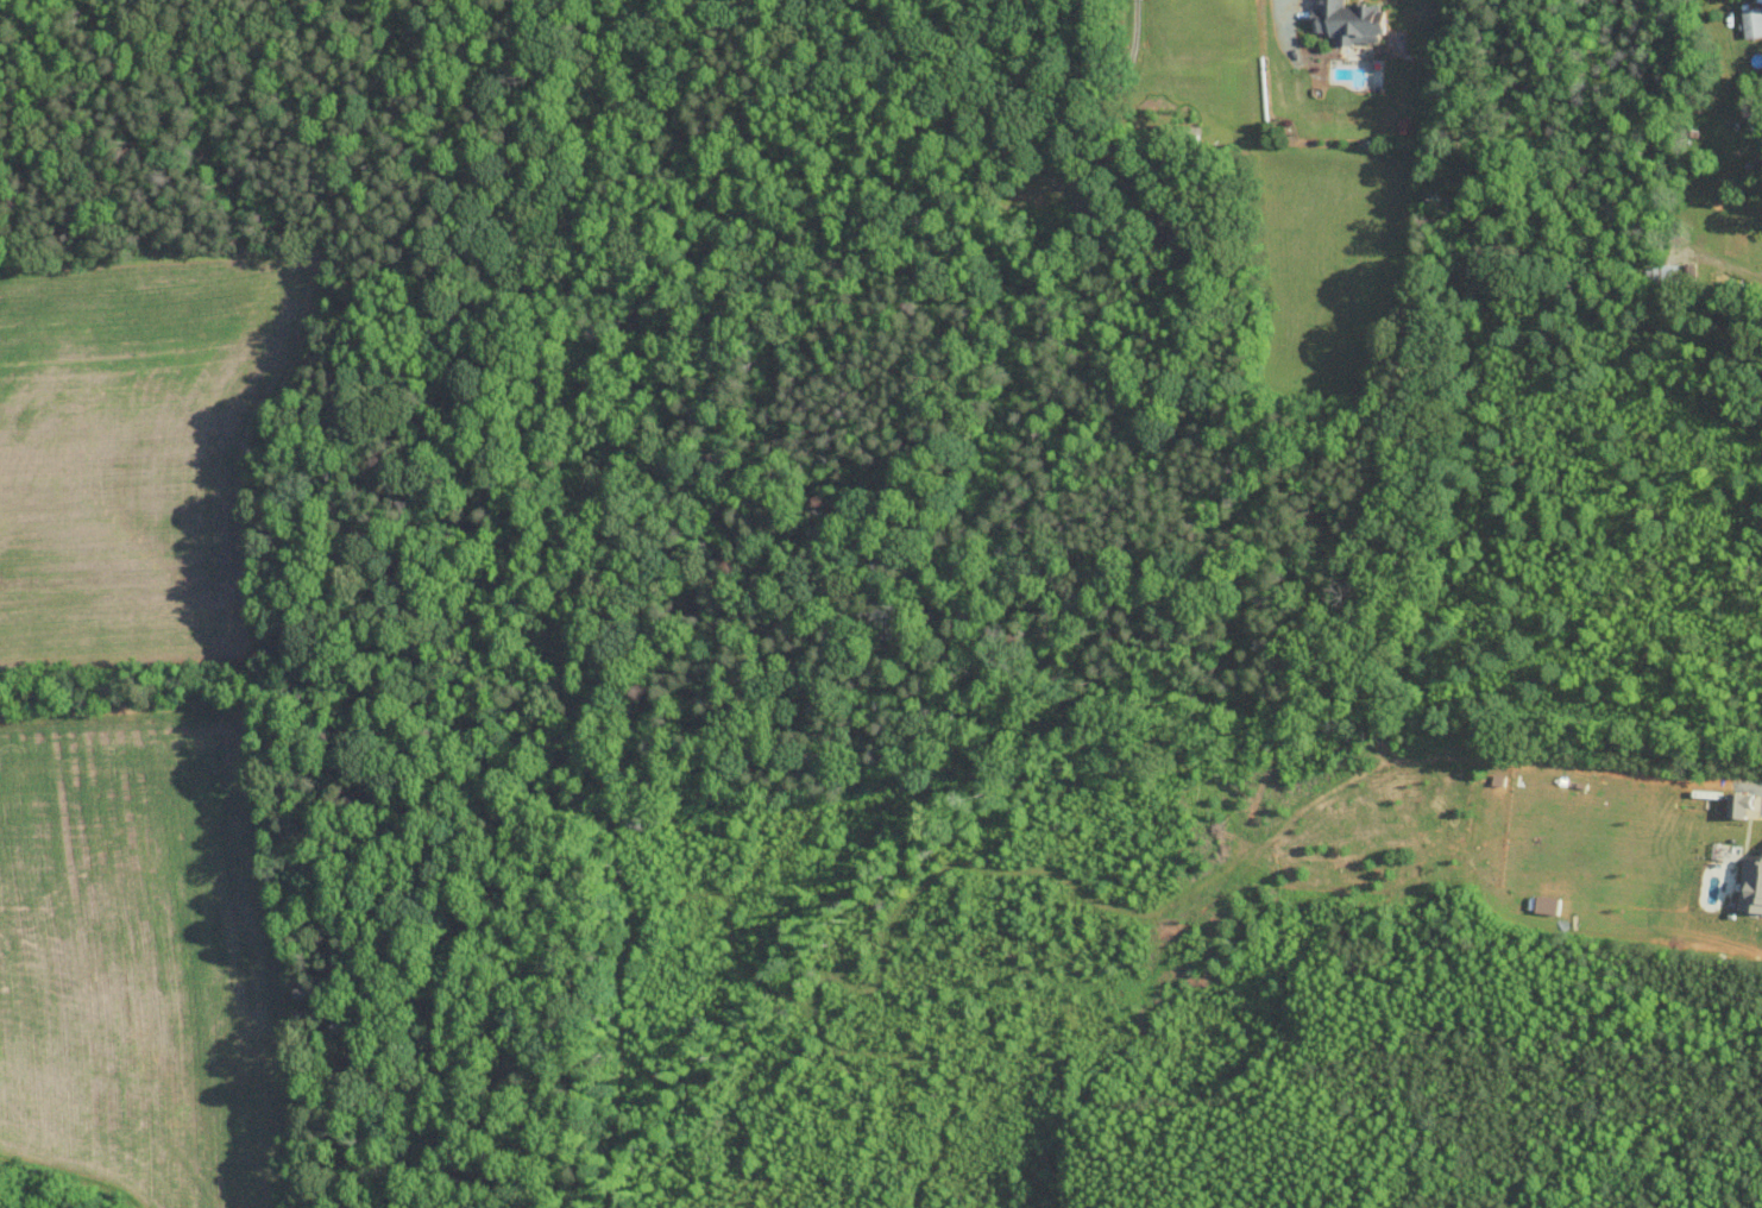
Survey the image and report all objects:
building: (1758, 0)
road: (1280, 11)
building: (1346, 20)
building: (1750, 20)
road: (1747, 271)
building: (1663, 272)
building: (1736, 804)
building: (1750, 885)

